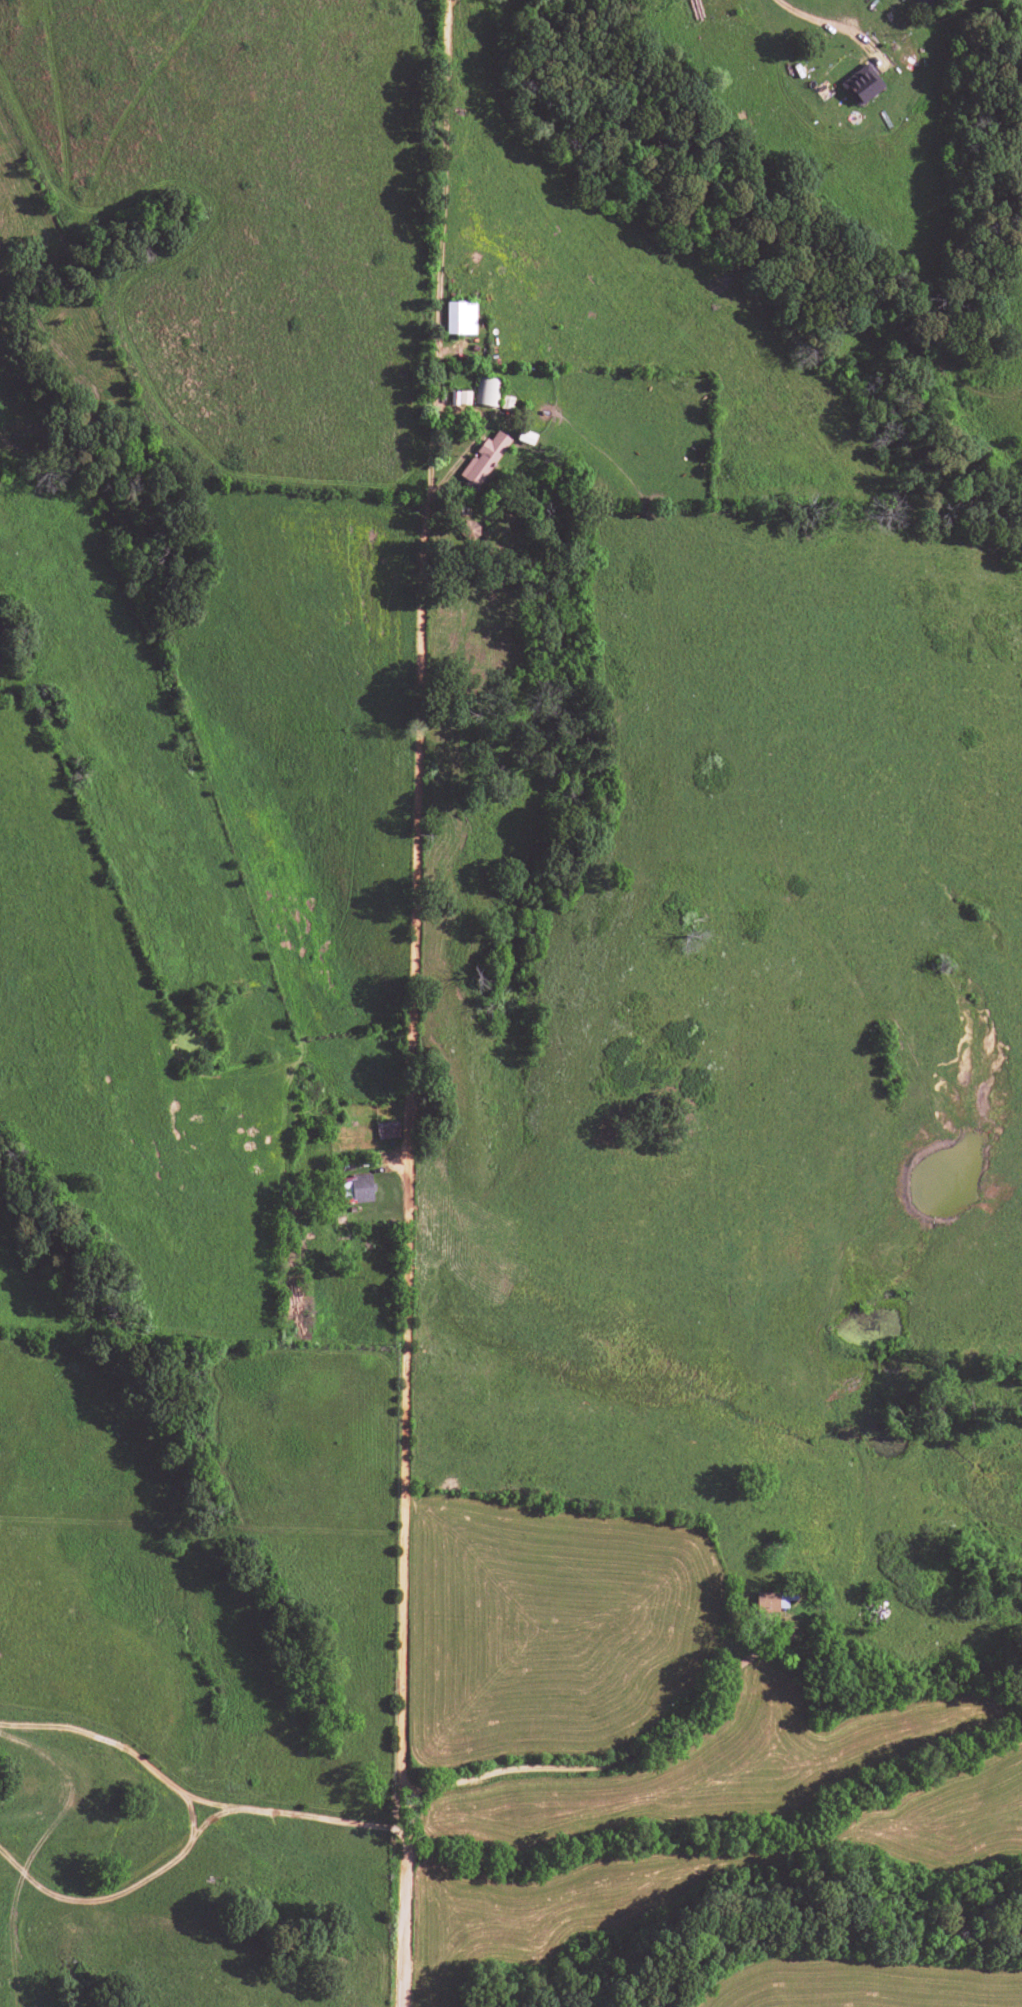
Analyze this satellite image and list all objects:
road: (828, 24)
building: (861, 85)
road: (439, 244)
building: (460, 318)
building: (486, 391)
building: (484, 458)
building: (387, 1130)
building: (361, 1188)
road: (413, 1247)
building: (770, 1601)
road: (624, 1769)
road: (197, 1800)
road: (188, 1814)
road: (206, 1819)
road: (96, 1898)

